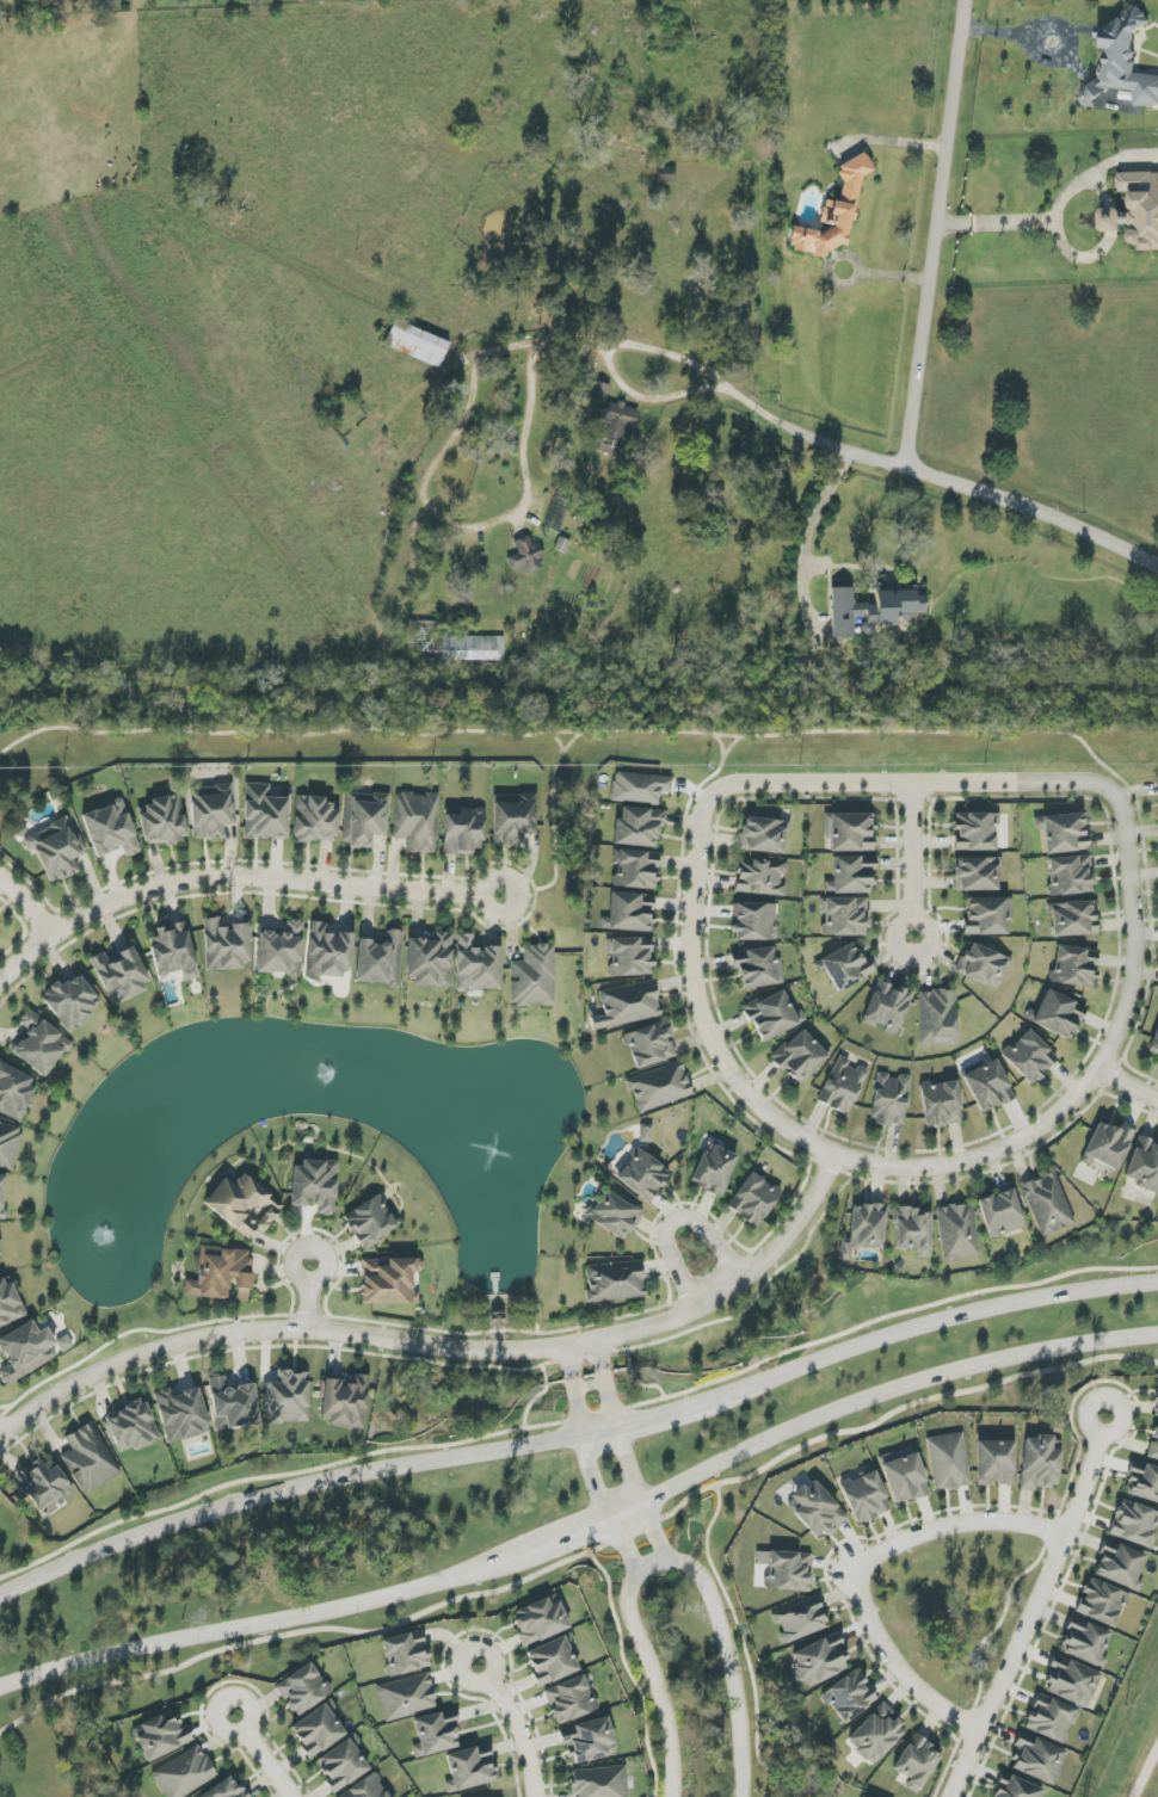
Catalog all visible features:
road: (1058, 23)
building: (1122, 62)
building: (1114, 99)
road: (894, 141)
building: (666, 174)
building: (1142, 206)
building: (834, 212)
building: (1111, 220)
road: (1009, 224)
road: (937, 233)
road: (854, 280)
building: (415, 344)
road: (649, 399)
building: (610, 418)
road: (450, 438)
road: (813, 438)
road: (818, 508)
road: (1035, 508)
building: (556, 514)
building: (525, 556)
building: (873, 610)
building: (474, 648)
road: (574, 731)
road: (565, 751)
road: (727, 754)
road: (714, 776)
road: (998, 782)
building: (639, 788)
road: (691, 789)
road: (1137, 791)
building: (211, 810)
building: (264, 814)
building: (363, 819)
building: (513, 819)
building: (315, 820)
building: (162, 821)
building: (415, 821)
building: (637, 827)
building: (110, 829)
building: (463, 832)
building: (849, 832)
building: (974, 832)
building: (1062, 832)
building: (763, 835)
road: (555, 845)
building: (56, 848)
road: (911, 860)
building: (635, 869)
building: (975, 875)
building: (851, 876)
building: (1070, 876)
road: (271, 877)
building: (760, 877)
road: (37, 890)
road: (29, 903)
building: (629, 913)
building: (987, 915)
building: (844, 916)
building: (1072, 919)
building: (753, 921)
building: (0, 933)
building: (224, 946)
building: (173, 951)
building: (281, 951)
building: (327, 952)
road: (27, 957)
building: (630, 957)
building: (378, 961)
building: (429, 961)
building: (476, 965)
building: (983, 965)
building: (1074, 967)
building: (757, 968)
building: (845, 968)
building: (119, 974)
building: (534, 977)
building: (72, 1002)
building: (629, 1004)
building: (887, 1007)
building: (1057, 1014)
building: (771, 1015)
building: (937, 1018)
building: (1154, 1043)
building: (39, 1044)
building: (648, 1045)
building: (799, 1056)
building: (1029, 1057)
fountain: (324, 1076)
building: (987, 1085)
building: (843, 1086)
road: (1128, 1086)
building: (659, 1087)
building: (14, 1092)
building: (891, 1099)
building: (941, 1104)
building: (645, 1134)
building: (8, 1144)
fountain: (487, 1144)
building: (1107, 1145)
building: (1144, 1165)
building: (713, 1169)
building: (641, 1175)
building: (314, 1186)
building: (2, 1196)
building: (753, 1199)
building: (1047, 1204)
building: (244, 1205)
building: (1000, 1214)
building: (614, 1215)
road: (671, 1221)
building: (370, 1222)
fountain: (116, 1227)
building: (863, 1229)
building: (913, 1230)
building: (957, 1233)
building: (0, 1255)
building: (221, 1273)
building: (389, 1280)
building: (614, 1282)
road: (312, 1295)
building: (8, 1303)
road: (934, 1321)
building: (63, 1344)
road: (444, 1347)
building: (25, 1351)
road: (606, 1383)
road: (889, 1390)
road: (574, 1391)
building: (287, 1398)
building: (1157, 1401)
building: (344, 1402)
building: (233, 1404)
building: (181, 1414)
road: (651, 1415)
building: (131, 1428)
building: (1153, 1445)
building: (88, 1459)
building: (948, 1462)
building: (994, 1463)
building: (1040, 1463)
road: (628, 1465)
building: (904, 1477)
road: (595, 1478)
building: (1142, 1482)
building: (42, 1484)
road: (282, 1490)
building: (864, 1496)
building: (815, 1509)
building: (1134, 1524)
road: (654, 1532)
road: (579, 1533)
road: (624, 1546)
road: (583, 1554)
road: (666, 1560)
building: (1120, 1566)
road: (860, 1568)
building: (786, 1570)
building: (1101, 1603)
road: (1034, 1608)
building: (538, 1620)
building: (800, 1620)
road: (998, 1623)
road: (258, 1626)
building: (1084, 1642)
building: (405, 1654)
building: (552, 1660)
building: (819, 1660)
building: (1071, 1681)
building: (302, 1690)
building: (406, 1697)
building: (849, 1697)
building: (569, 1699)
building: (1051, 1719)
road: (517, 1724)
building: (318, 1730)
building: (435, 1734)
building: (161, 1735)
building: (876, 1735)
building: (587, 1740)
road: (264, 1755)
building: (1036, 1759)
power tower: (1128, 1760)
building: (917, 1762)
building: (343, 1764)
road: (1144, 1766)
building: (470, 1768)
road: (1147, 1768)
building: (184, 1773)
building: (599, 1781)
building: (226, 1789)
building: (367, 1789)
building: (1017, 1789)

